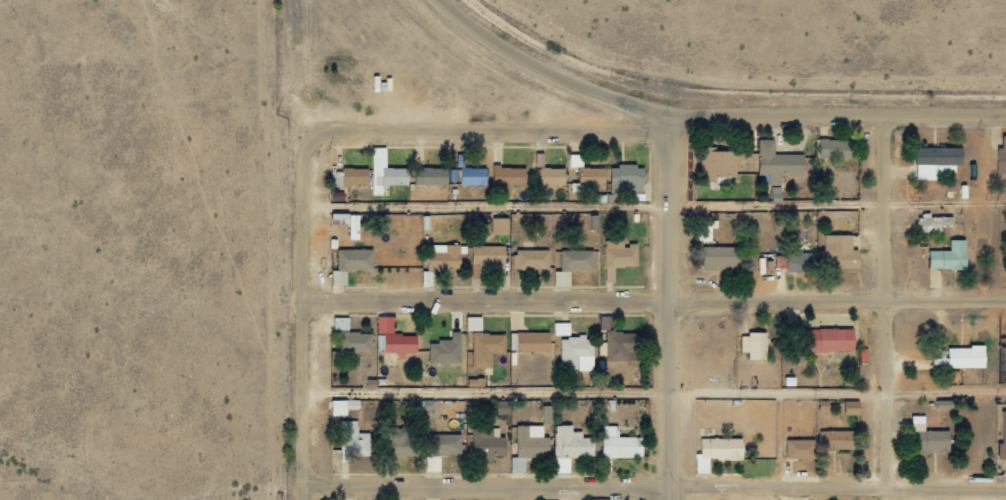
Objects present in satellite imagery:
road: (539, 64)
road: (822, 120)
road: (475, 131)
building: (835, 147)
building: (1002, 156)
building: (935, 157)
building: (575, 159)
building: (778, 162)
building: (720, 163)
building: (386, 172)
building: (355, 175)
building: (432, 175)
building: (552, 175)
building: (474, 176)
building: (508, 178)
building: (349, 219)
building: (934, 220)
building: (592, 221)
building: (500, 225)
building: (840, 251)
building: (949, 255)
building: (721, 256)
building: (619, 257)
building: (487, 258)
building: (531, 258)
building: (440, 260)
building: (780, 261)
building: (800, 261)
building: (351, 262)
building: (572, 264)
road: (651, 301)
road: (675, 309)
road: (882, 310)
road: (296, 321)
building: (562, 328)
building: (393, 337)
building: (351, 338)
building: (829, 339)
building: (530, 340)
building: (618, 341)
building: (484, 342)
building: (754, 344)
building: (446, 349)
building: (576, 353)
building: (963, 357)
building: (344, 406)
building: (852, 407)
building: (547, 413)
building: (928, 437)
building: (840, 439)
building: (354, 440)
building: (400, 442)
building: (444, 443)
building: (619, 443)
building: (487, 444)
building: (529, 445)
building: (569, 446)
building: (800, 448)
building: (718, 451)
building: (432, 463)
road: (650, 484)
building: (601, 499)

